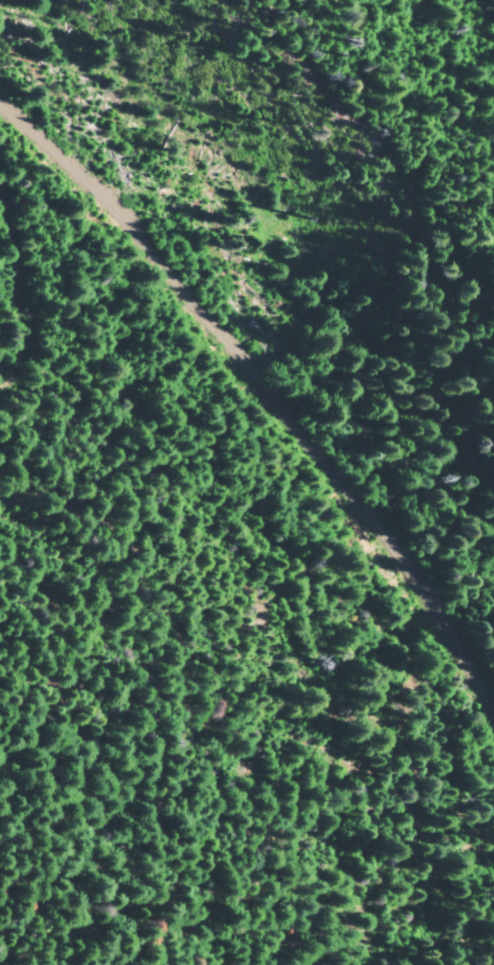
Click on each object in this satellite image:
road: (266, 350)

